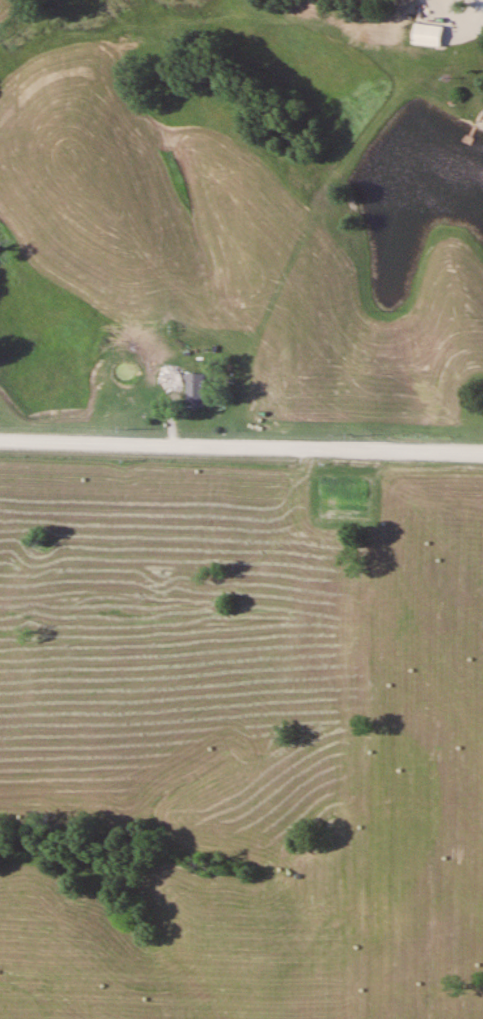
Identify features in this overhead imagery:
road: (480, 9)
building: (429, 35)
building: (173, 377)
building: (196, 390)
road: (241, 448)

